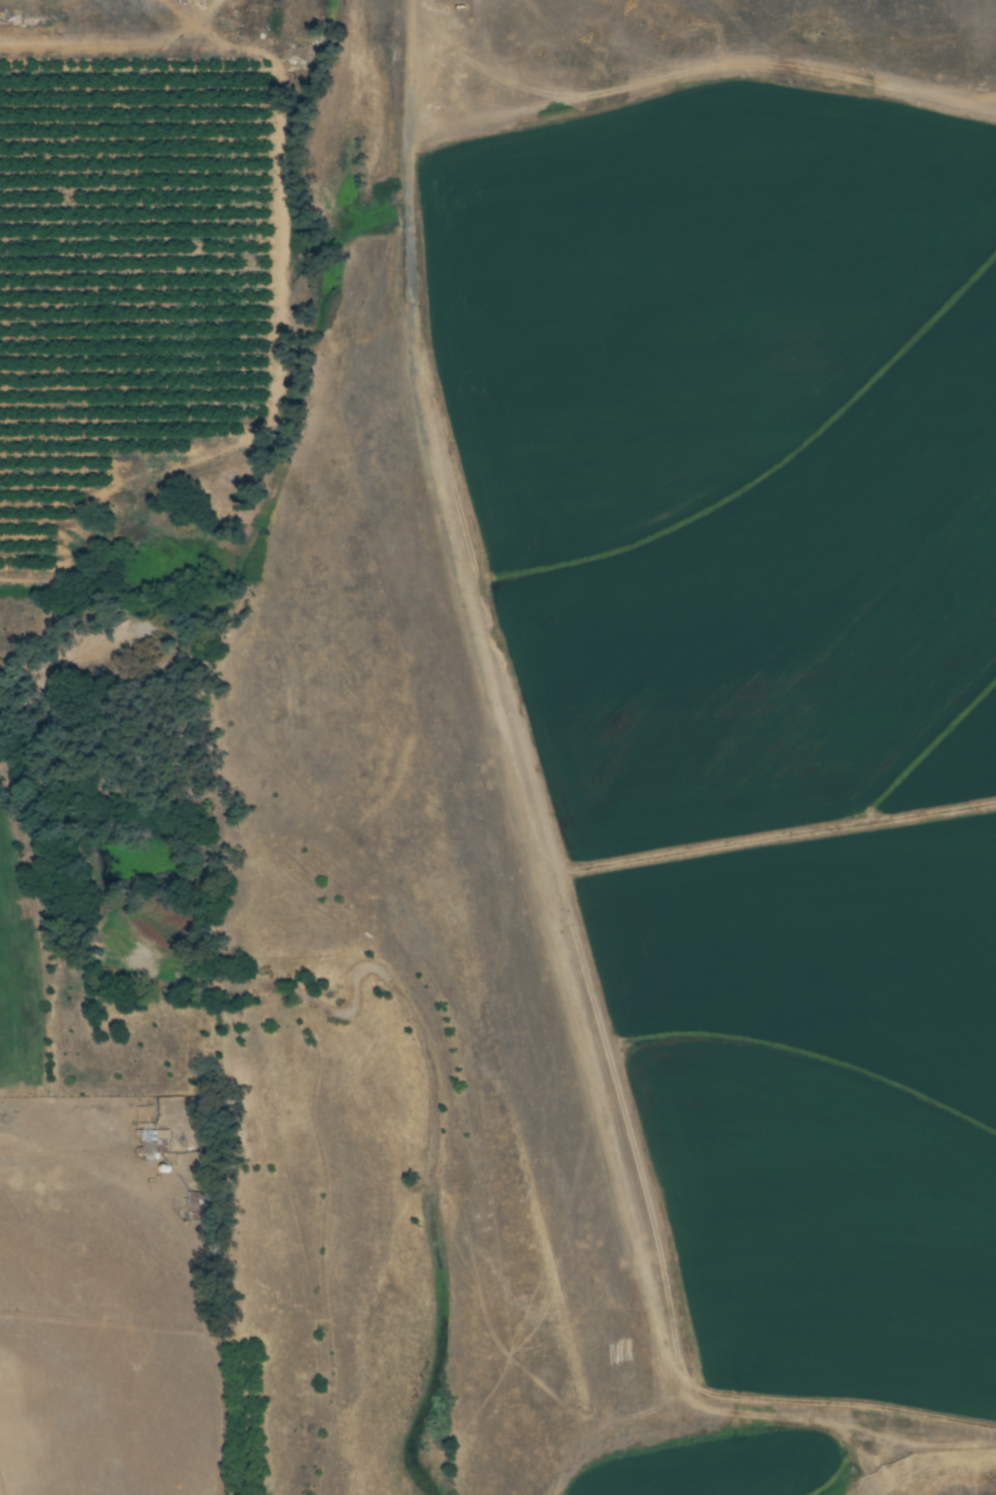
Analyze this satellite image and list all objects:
road: (532, 846)
building: (200, 1205)

